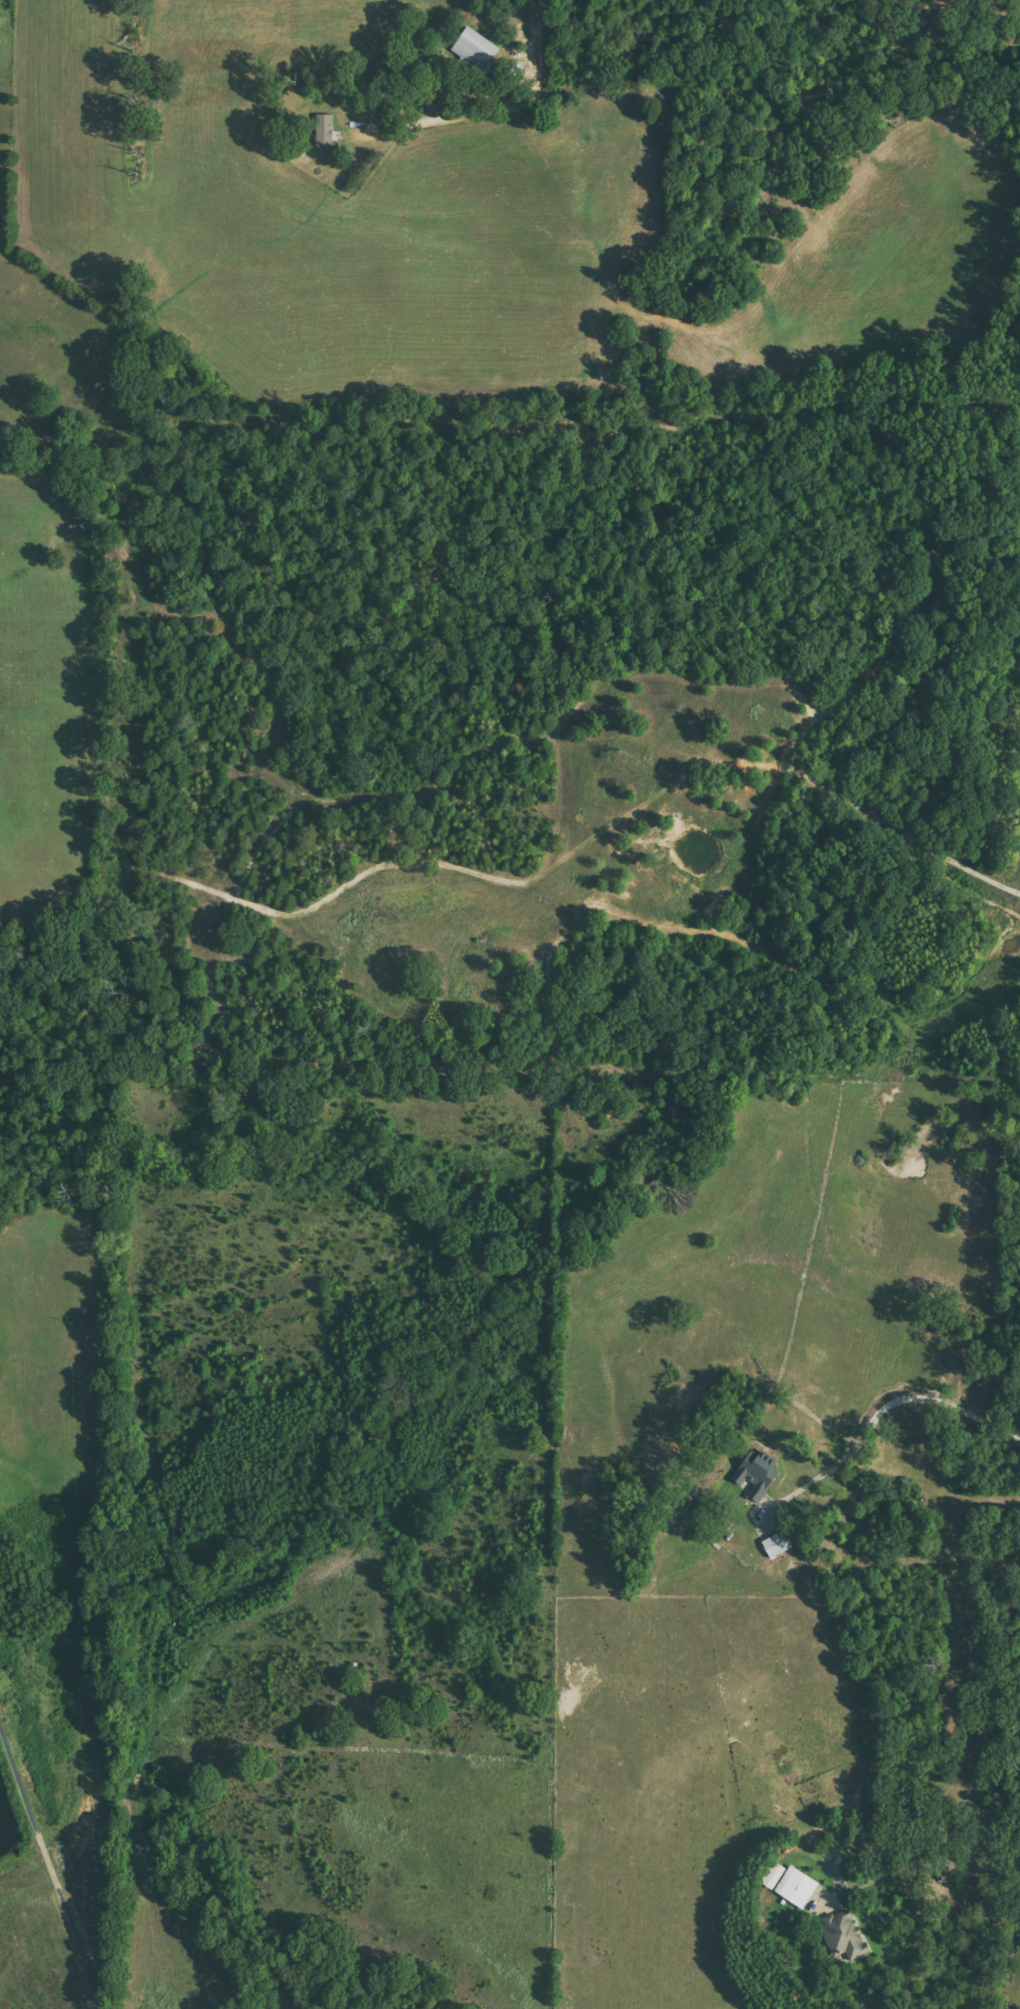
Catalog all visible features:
road: (537, 26)
building: (475, 49)
road: (462, 114)
building: (325, 130)
road: (891, 1406)
building: (757, 1474)
building: (777, 1544)
road: (927, 1864)
road: (49, 1870)
building: (774, 1874)
building: (797, 1886)
building: (844, 1934)

